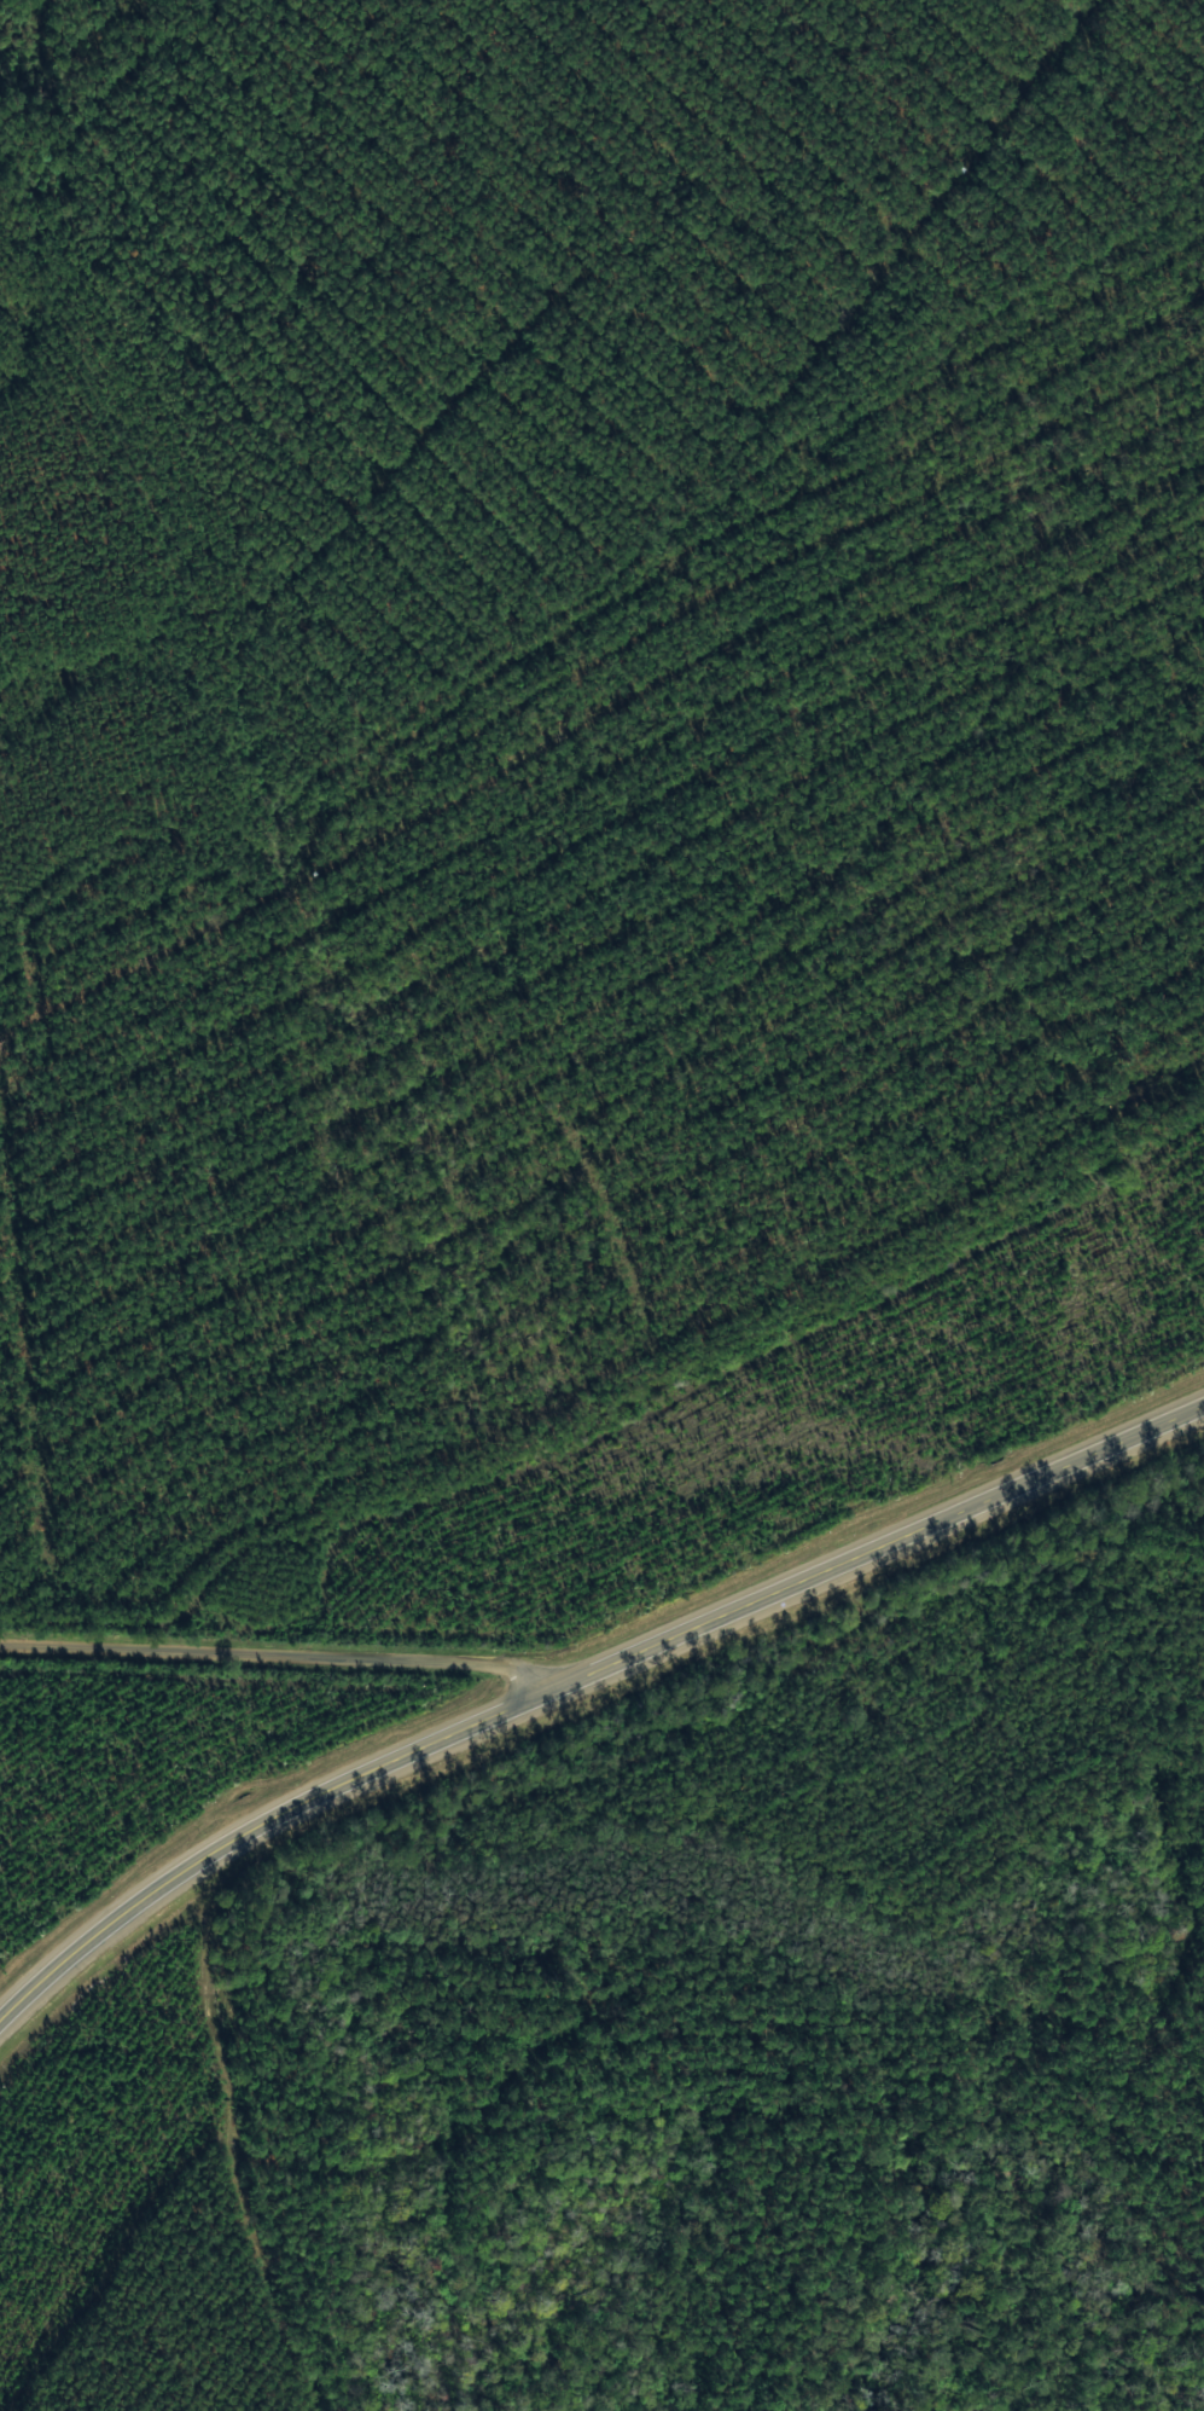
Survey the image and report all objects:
road: (587, 1679)
road: (287, 1703)

